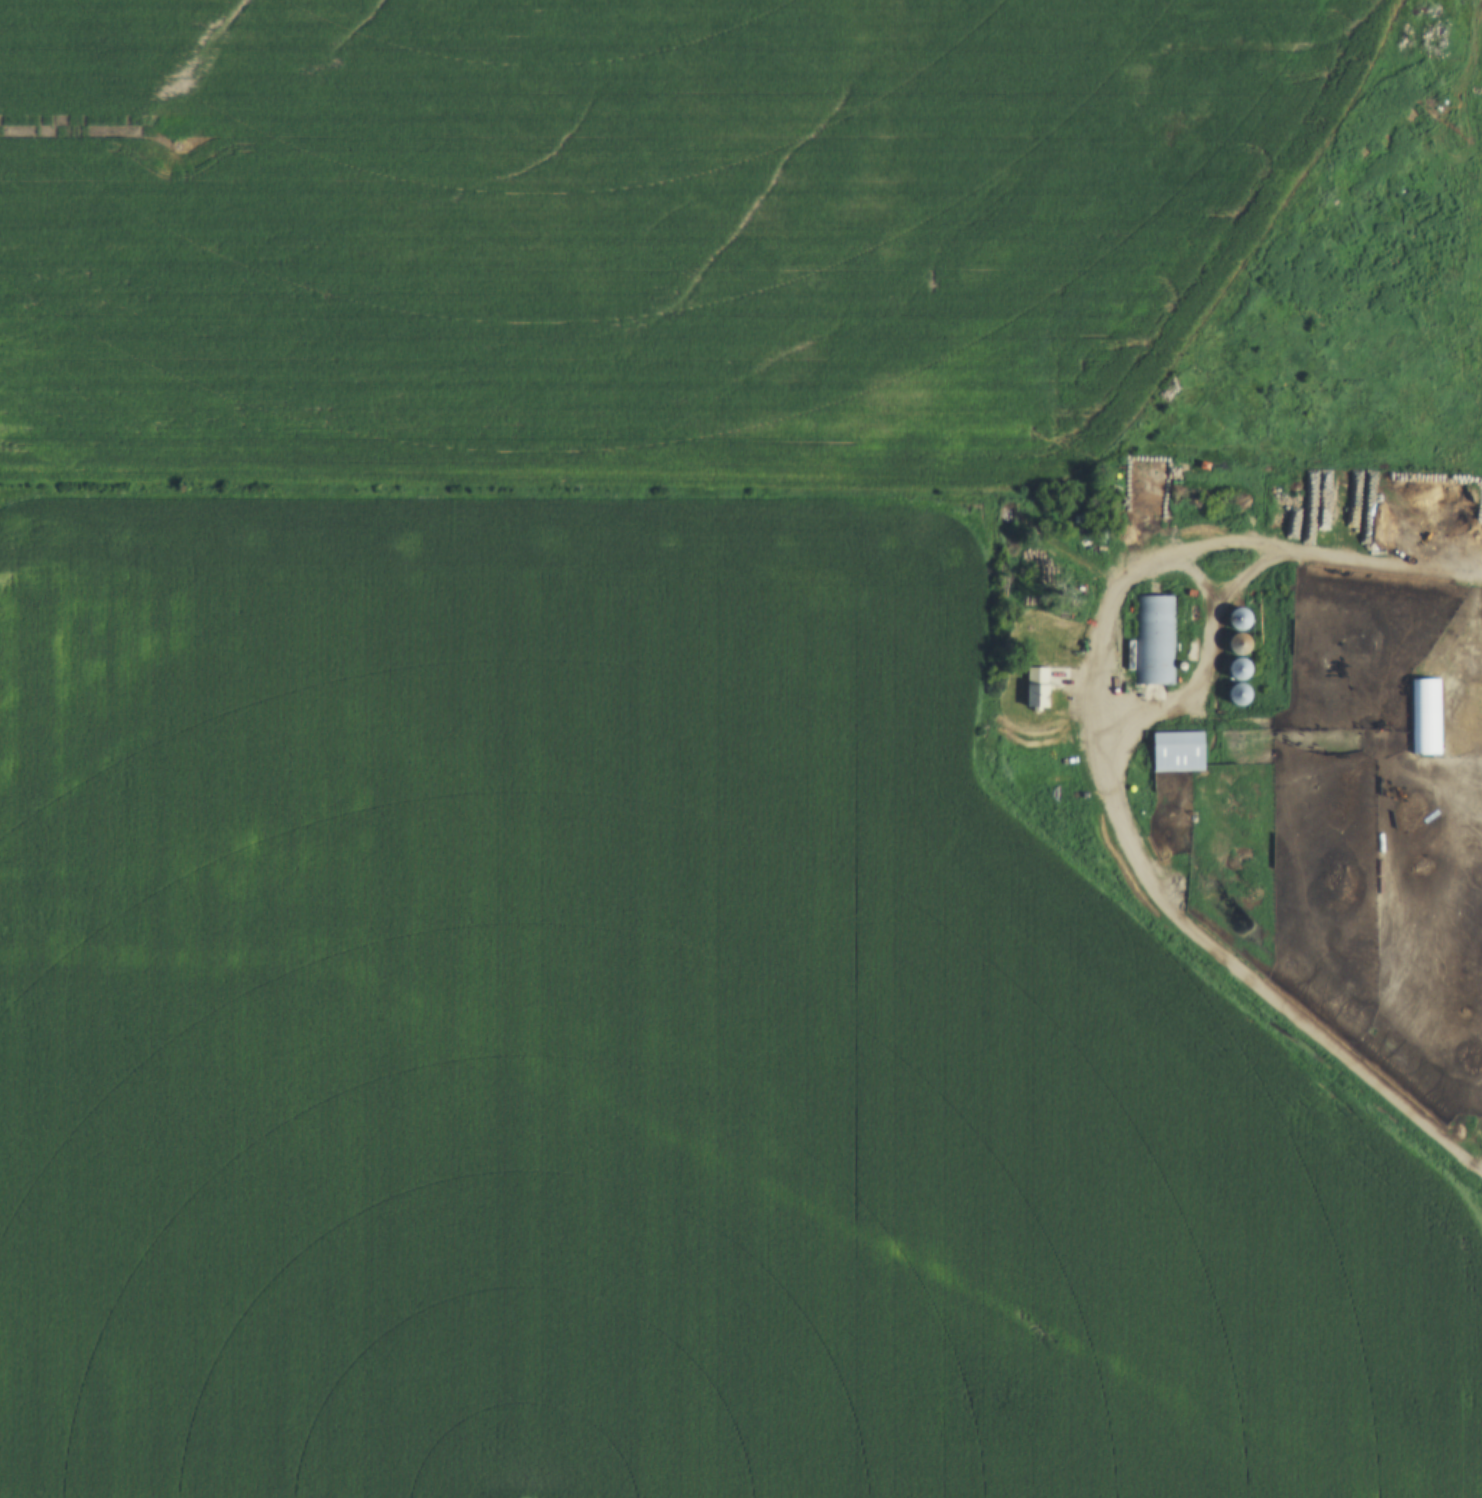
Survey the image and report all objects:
building: (1156, 641)
building: (1239, 655)
building: (1037, 690)
building: (1179, 752)
road: (1118, 805)
building: (1250, 900)

